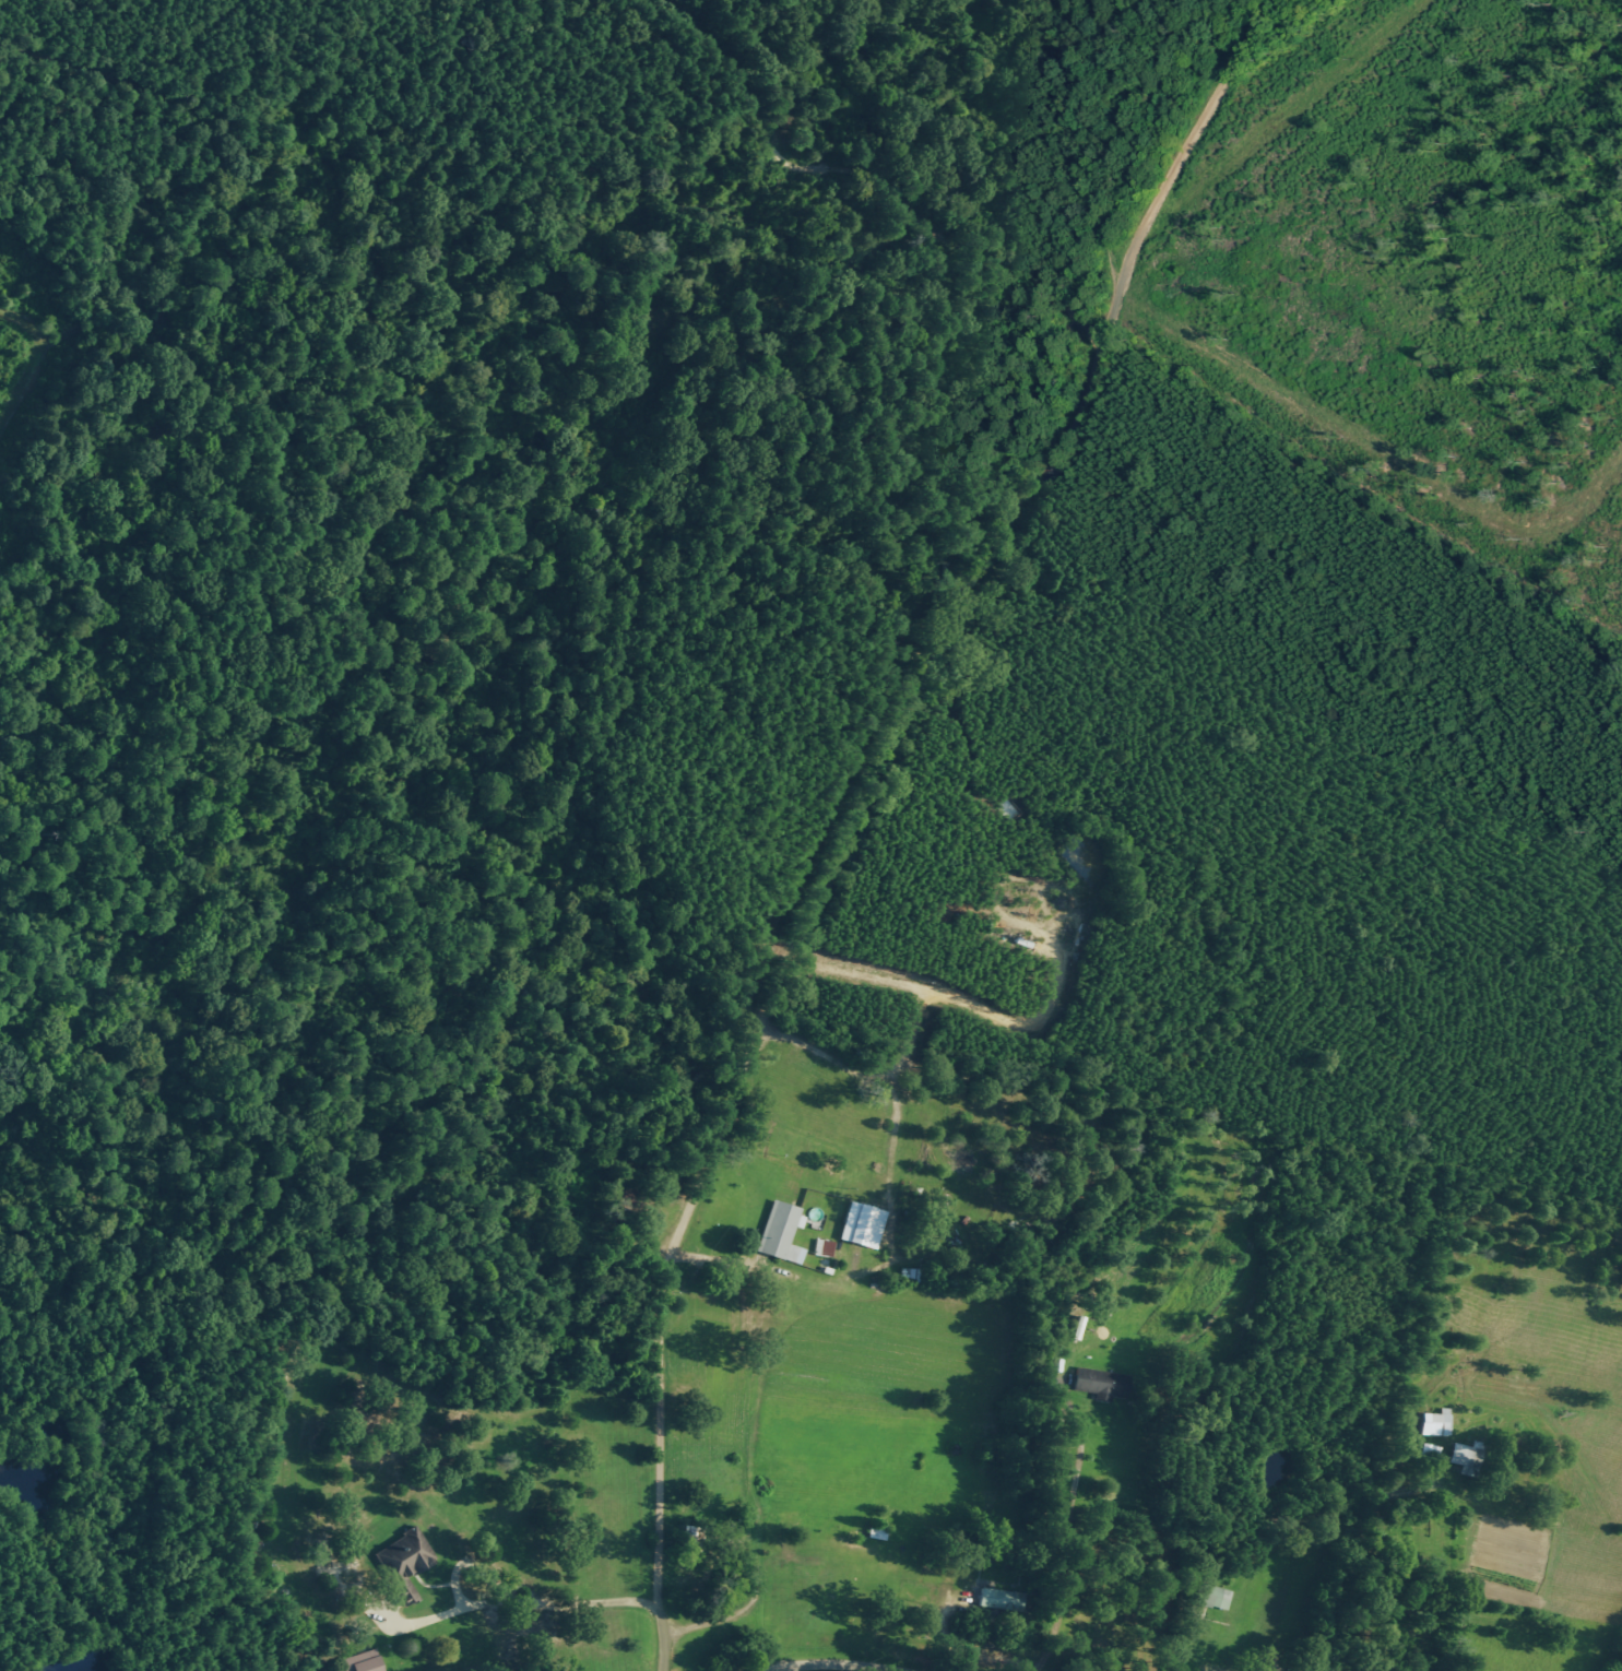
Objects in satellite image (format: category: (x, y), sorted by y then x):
road: (866, 807)
building: (859, 1225)
building: (779, 1232)
building: (1097, 1382)
building: (1434, 1422)
building: (1429, 1449)
building: (1461, 1454)
building: (402, 1561)
building: (1209, 1595)
building: (995, 1598)
building: (364, 1661)

